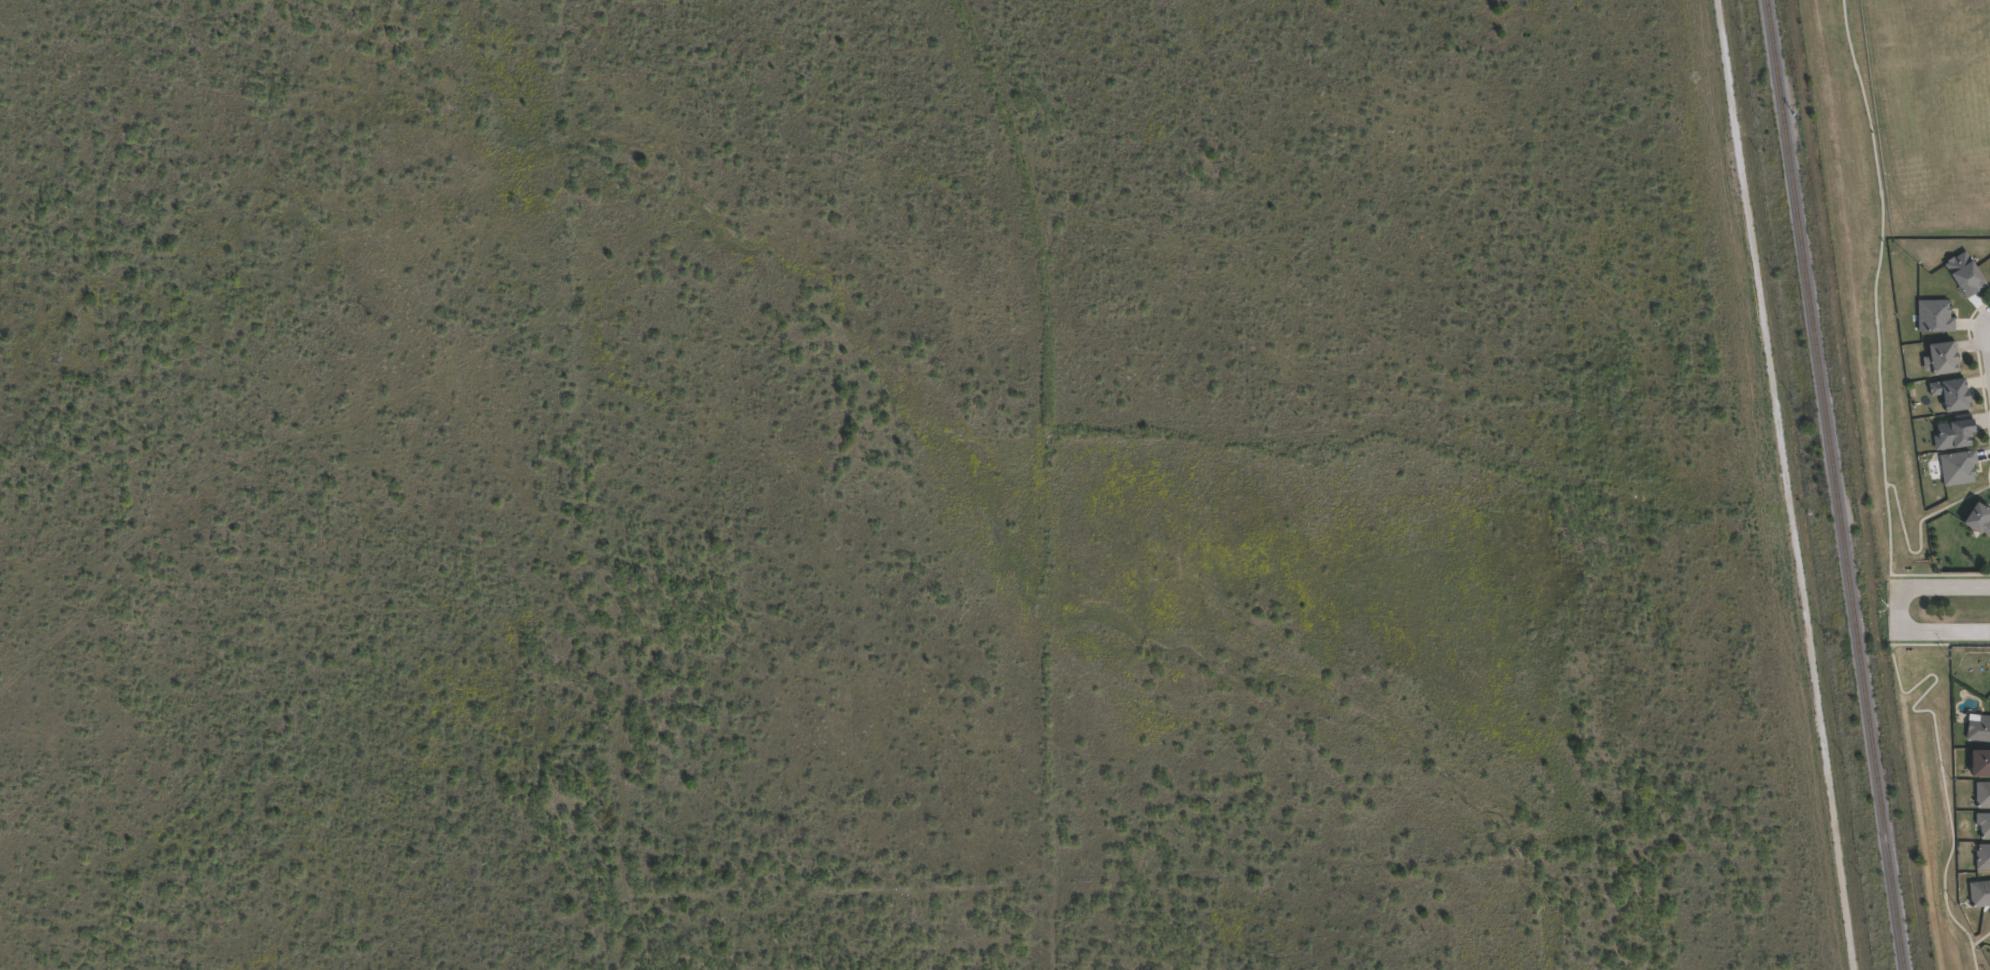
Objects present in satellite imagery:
building: (1963, 272)
road: (1873, 284)
building: (1934, 315)
road: (1987, 325)
road: (1987, 341)
building: (1941, 357)
building: (1950, 393)
building: (1952, 433)
building: (1958, 467)
road: (1782, 484)
railway: (1841, 484)
building: (1977, 519)
road: (1919, 538)
road: (1939, 573)
road: (1945, 581)
road: (1899, 607)
road: (1944, 632)
road: (1939, 644)
building: (1979, 729)
road: (1936, 742)
building: (1979, 762)
building: (1983, 795)
building: (1983, 825)
building: (1983, 858)
building: (1979, 894)
road: (1970, 944)

